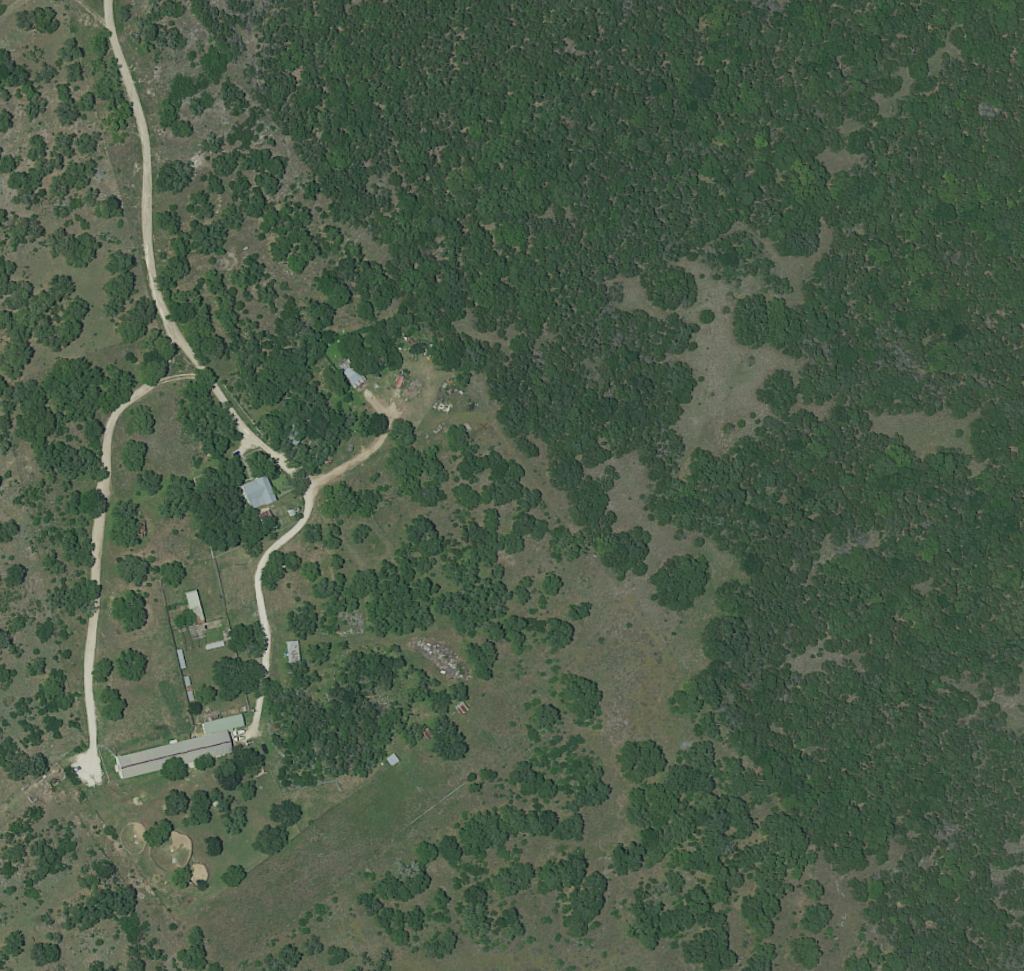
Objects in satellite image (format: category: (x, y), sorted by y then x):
building: (348, 373)
road: (157, 374)
road: (367, 455)
building: (255, 493)
road: (304, 503)
building: (191, 607)
building: (289, 653)
building: (179, 749)

